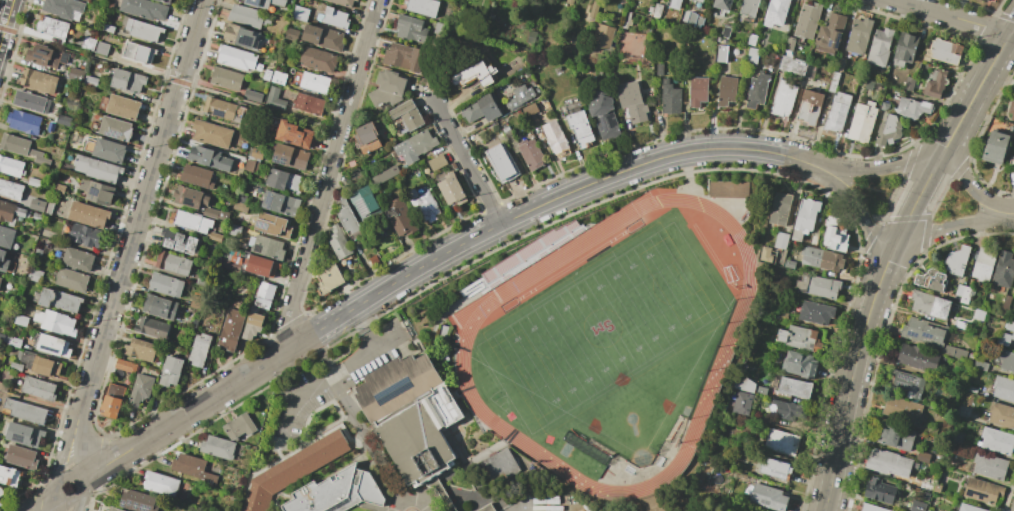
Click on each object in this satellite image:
building: (356, 0)
building: (989, 0)
building: (164, 1)
building: (698, 1)
building: (983, 1)
building: (343, 2)
building: (263, 3)
building: (675, 4)
building: (722, 4)
building: (423, 7)
building: (63, 8)
building: (749, 8)
building: (144, 9)
building: (595, 9)
building: (650, 9)
building: (657, 10)
building: (776, 12)
building: (300, 13)
building: (247, 16)
road: (5, 17)
road: (953, 17)
building: (334, 18)
building: (808, 21)
building: (699, 24)
building: (52, 27)
building: (108, 28)
building: (438, 28)
building: (411, 29)
building: (143, 30)
building: (726, 32)
building: (830, 34)
building: (291, 35)
building: (242, 36)
building: (602, 36)
building: (859, 36)
building: (323, 38)
building: (752, 39)
rooftop solar panel: (243, 42)
rooftop solar panel: (249, 42)
building: (88, 43)
building: (789, 44)
rooftop solar panel: (839, 44)
rooftop solar panel: (828, 45)
building: (880, 47)
building: (101, 48)
building: (905, 50)
building: (718, 52)
building: (945, 52)
building: (139, 53)
building: (752, 55)
building: (43, 56)
building: (403, 56)
building: (63, 57)
building: (236, 58)
building: (318, 60)
building: (792, 65)
building: (840, 65)
building: (659, 69)
building: (809, 70)
building: (76, 74)
building: (267, 75)
building: (475, 75)
building: (92, 78)
building: (279, 78)
road: (171, 79)
building: (227, 79)
building: (38, 81)
building: (128, 81)
building: (833, 81)
building: (315, 83)
building: (909, 84)
building: (935, 84)
building: (869, 85)
building: (916, 85)
building: (387, 89)
building: (757, 90)
road: (976, 90)
building: (698, 91)
building: (726, 91)
building: (252, 96)
building: (519, 97)
building: (275, 98)
building: (670, 98)
building: (783, 99)
building: (632, 101)
building: (32, 102)
building: (308, 104)
building: (884, 106)
building: (123, 107)
building: (810, 108)
building: (912, 108)
building: (221, 109)
building: (481, 109)
building: (1011, 109)
building: (530, 112)
building: (837, 113)
rooftop solar panel: (219, 115)
building: (407, 115)
building: (603, 115)
building: (64, 121)
building: (24, 122)
building: (862, 123)
building: (51, 127)
building: (116, 129)
building: (580, 129)
building: (888, 131)
building: (211, 134)
building: (295, 135)
building: (367, 138)
building: (556, 139)
building: (415, 146)
building: (994, 147)
building: (22, 148)
building: (109, 151)
building: (530, 155)
building: (290, 157)
building: (210, 158)
road: (928, 159)
building: (437, 162)
road: (468, 163)
building: (501, 163)
road: (807, 163)
building: (252, 166)
building: (11, 167)
building: (97, 169)
road: (328, 171)
building: (354, 175)
building: (385, 176)
building: (197, 177)
building: (285, 181)
building: (34, 183)
building: (61, 188)
building: (11, 189)
building: (728, 189)
building: (452, 191)
building: (97, 192)
rooftop solar panel: (94, 194)
building: (191, 197)
road: (915, 201)
rooftop solar panel: (266, 202)
building: (280, 204)
building: (364, 204)
building: (34, 207)
building: (50, 207)
building: (241, 207)
building: (425, 207)
building: (779, 209)
rooftop solar panel: (360, 210)
road: (528, 210)
building: (7, 211)
building: (22, 212)
building: (210, 212)
road: (1011, 213)
road: (138, 214)
building: (88, 215)
building: (223, 216)
building: (37, 217)
building: (400, 218)
building: (804, 219)
building: (349, 221)
building: (192, 222)
building: (272, 225)
building: (233, 230)
building: (834, 234)
building: (86, 235)
building: (6, 237)
building: (216, 237)
building: (812, 240)
building: (178, 241)
building: (251, 241)
building: (780, 241)
building: (338, 242)
road: (902, 242)
building: (268, 248)
building: (38, 253)
building: (764, 254)
building: (820, 258)
building: (77, 259)
building: (3, 261)
building: (246, 261)
building: (956, 261)
building: (173, 263)
building: (983, 263)
building: (259, 265)
building: (1002, 269)
building: (0, 274)
building: (35, 275)
building: (327, 278)
building: (0, 279)
building: (71, 280)
building: (204, 280)
building: (932, 280)
building: (166, 285)
building: (817, 286)
building: (962, 293)
building: (264, 295)
building: (59, 300)
building: (195, 302)
building: (928, 304)
building: (1004, 305)
building: (159, 307)
building: (814, 312)
building: (777, 315)
building: (20, 321)
building: (56, 322)
building: (186, 325)
building: (252, 326)
building: (151, 327)
road: (363, 328)
building: (1010, 328)
building: (231, 330)
park: (602, 330)
building: (922, 331)
building: (443, 332)
rooftop solar panel: (908, 337)
building: (2, 338)
building: (799, 338)
rooftop solar panel: (927, 338)
building: (1002, 338)
building: (14, 342)
track: (465, 342)
building: (52, 345)
building: (199, 349)
building: (140, 350)
building: (954, 351)
building: (917, 358)
building: (1006, 361)
building: (798, 364)
building: (40, 365)
building: (16, 366)
building: (125, 366)
building: (171, 371)
road: (850, 376)
road: (329, 377)
rooftop solar panel: (909, 377)
building: (907, 384)
rooftop solar panel: (917, 384)
building: (748, 385)
building: (3, 387)
building: (793, 387)
rooftop solar panel: (903, 387)
building: (39, 388)
rooftop solar panel: (394, 388)
building: (1003, 388)
building: (140, 390)
rooftop solar panel: (915, 392)
building: (1, 397)
rooftop solar panel: (919, 398)
building: (113, 400)
building: (742, 403)
building: (900, 409)
building: (25, 411)
building: (788, 411)
road: (187, 412)
building: (1000, 415)
building: (411, 416)
building: (239, 427)
building: (23, 434)
road: (364, 434)
rooftop solar panel: (18, 436)
building: (893, 436)
building: (996, 441)
building: (780, 442)
building: (218, 447)
road: (63, 454)
road: (77, 454)
building: (922, 456)
building: (21, 457)
building: (493, 463)
building: (887, 463)
building: (188, 465)
building: (988, 466)
building: (773, 468)
building: (294, 469)
road: (67, 476)
building: (9, 477)
building: (208, 479)
building: (161, 484)
road: (82, 487)
road: (56, 490)
building: (879, 490)
building: (981, 490)
building: (1, 492)
building: (337, 493)
rooftop solar panel: (976, 494)
building: (767, 497)
rooftop solar panel: (979, 500)
building: (138, 501)
road: (45, 502)
road: (69, 502)
road: (78, 503)
road: (57, 504)
building: (917, 505)
building: (486, 508)
building: (869, 508)
building: (967, 508)
building: (112, 509)

